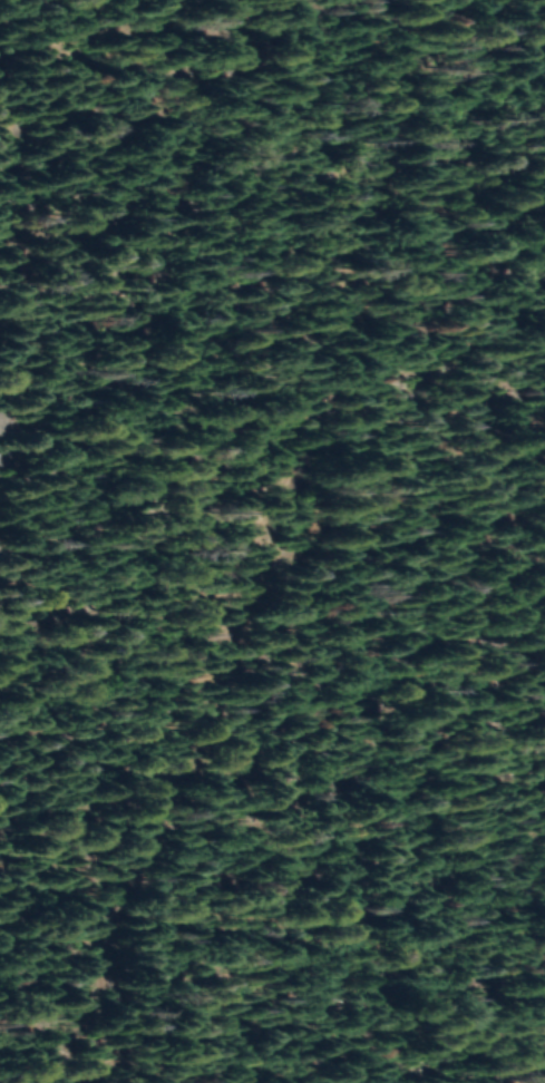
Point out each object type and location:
road: (284, 562)

